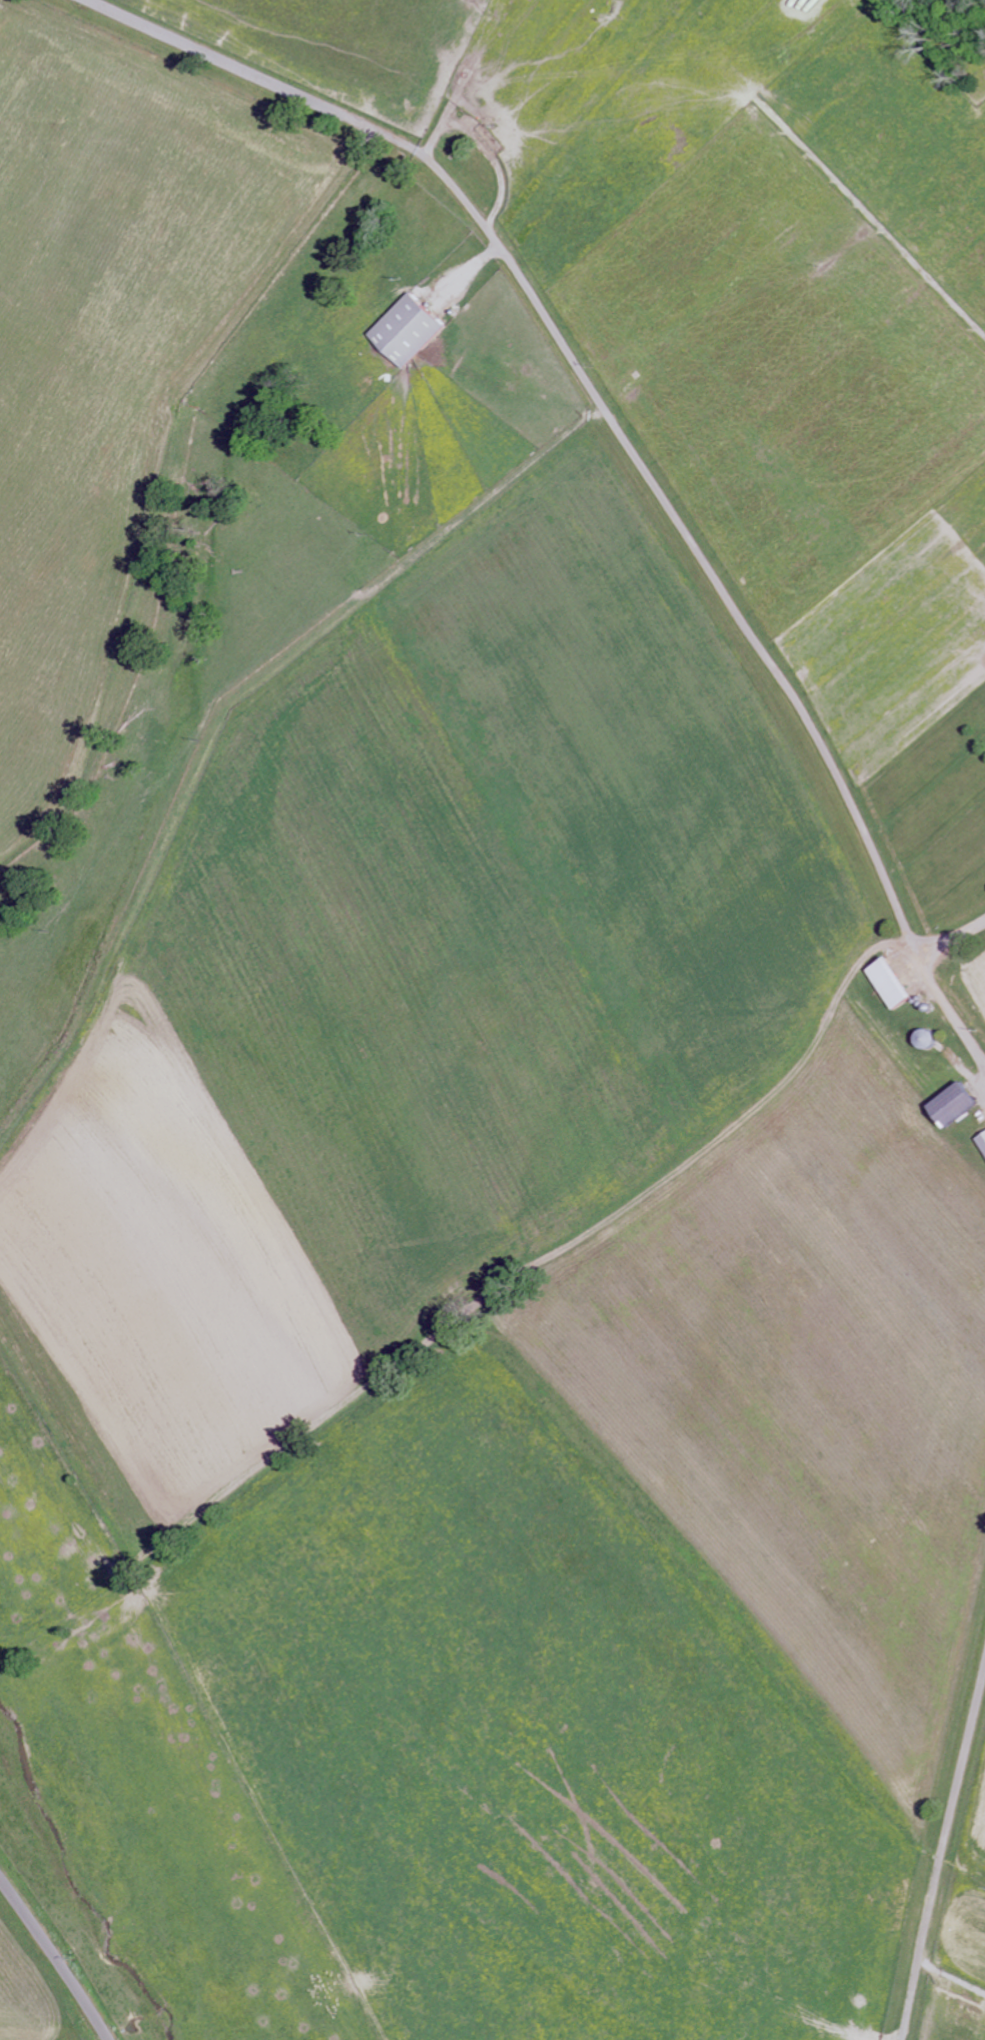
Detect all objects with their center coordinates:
building: (409, 331)
road: (626, 445)
road: (951, 937)
building: (893, 982)
building: (956, 1104)
building: (983, 1139)
road: (942, 1855)
road: (57, 1954)

